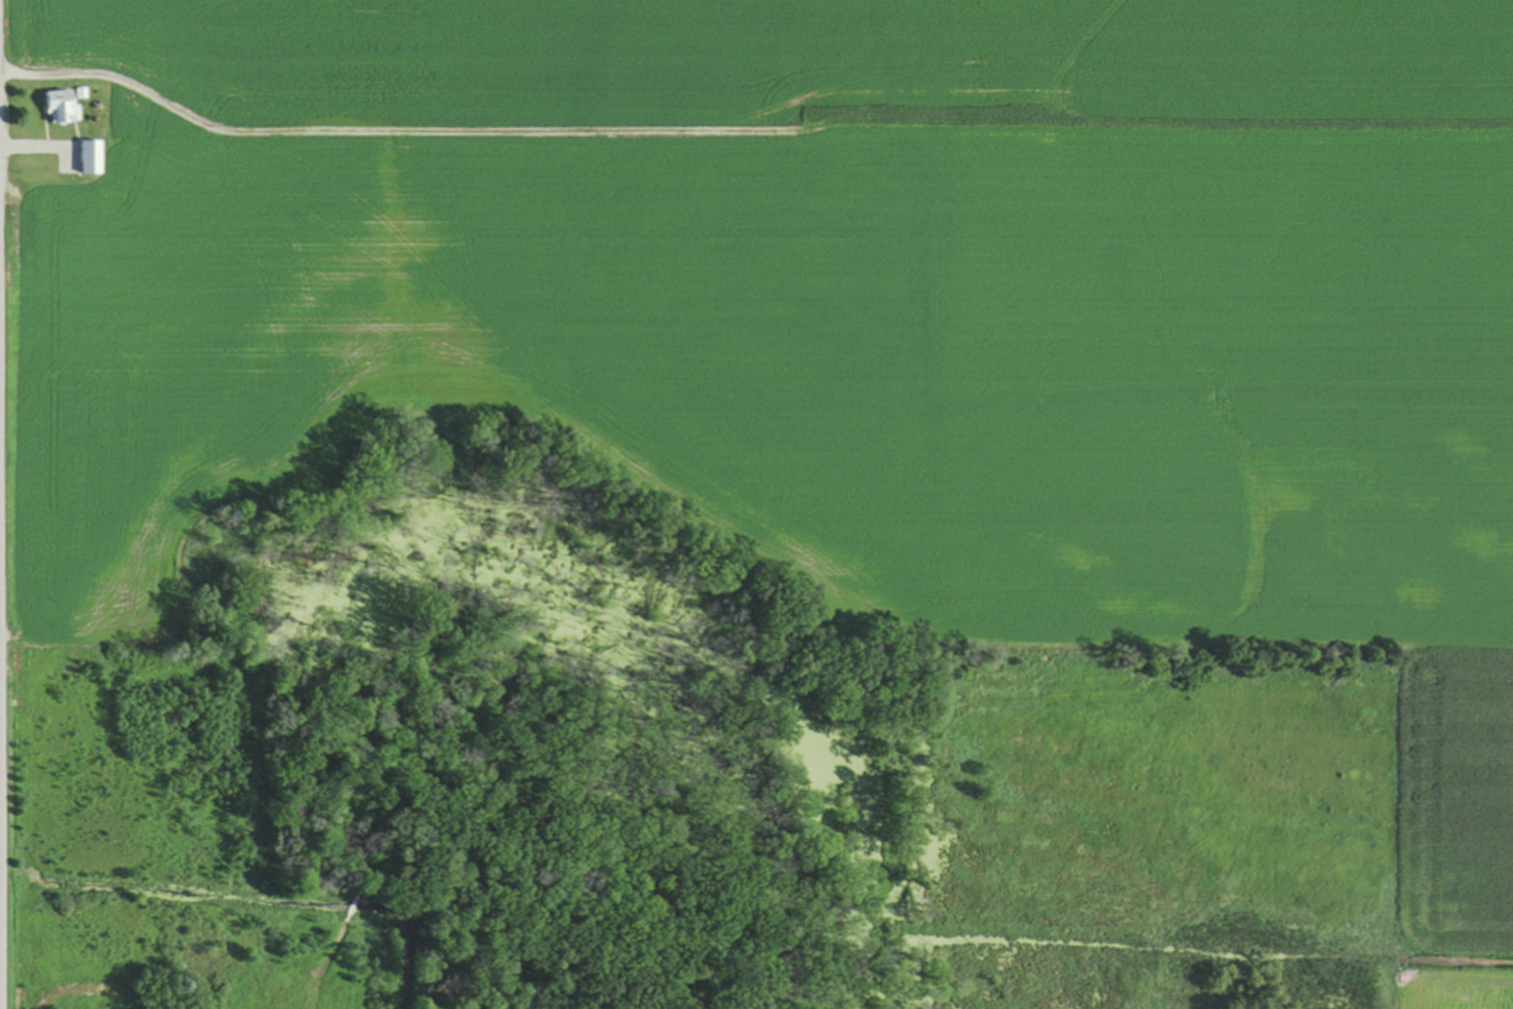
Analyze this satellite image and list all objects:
building: (59, 109)
road: (31, 147)
building: (87, 158)

